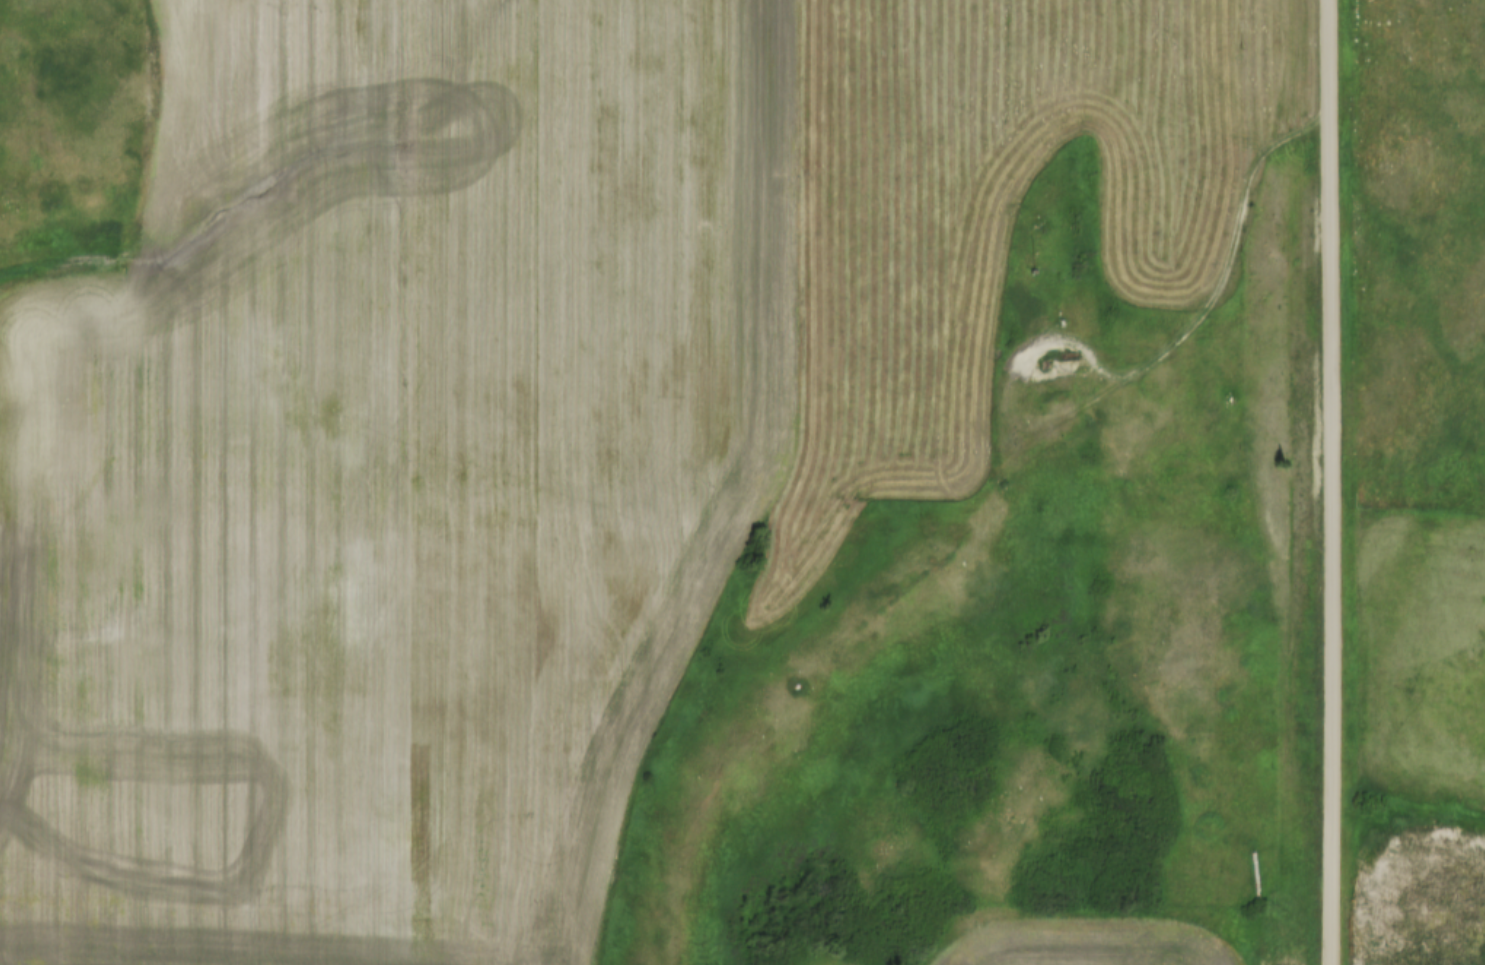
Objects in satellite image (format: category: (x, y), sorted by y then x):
road: (1332, 482)

